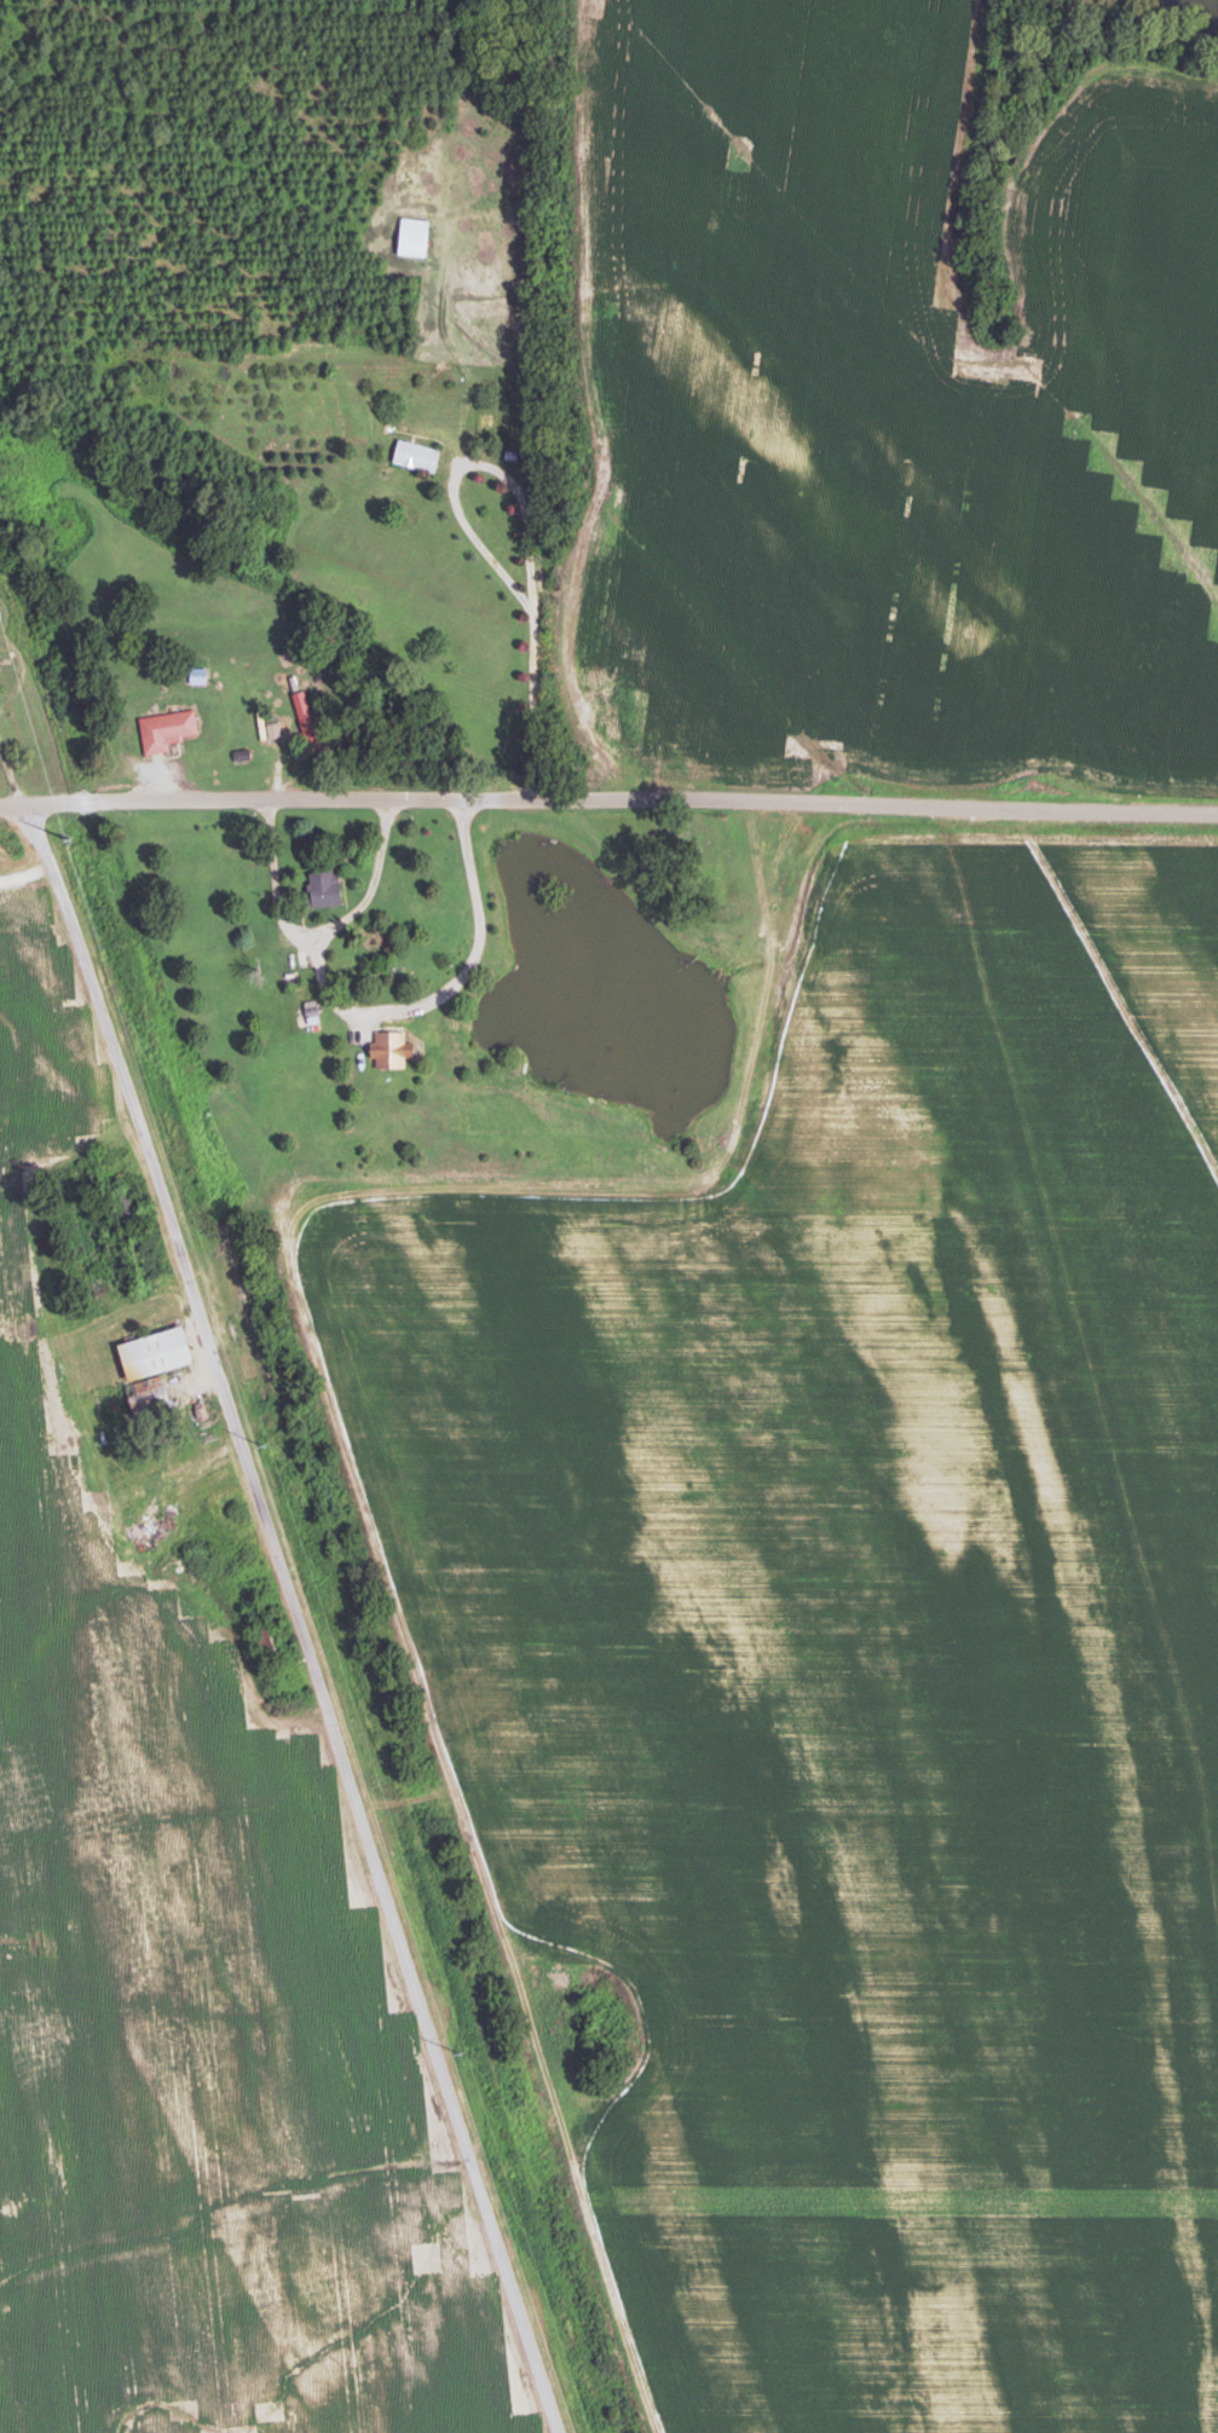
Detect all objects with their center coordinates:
building: (414, 237)
building: (417, 456)
building: (306, 715)
building: (167, 730)
road: (10, 779)
road: (608, 798)
power tower: (70, 839)
building: (325, 889)
building: (288, 969)
building: (392, 1050)
building: (125, 1206)
building: (157, 1353)
power tower: (265, 1441)
railway: (306, 1486)
road: (291, 1614)
power tower: (461, 2051)

